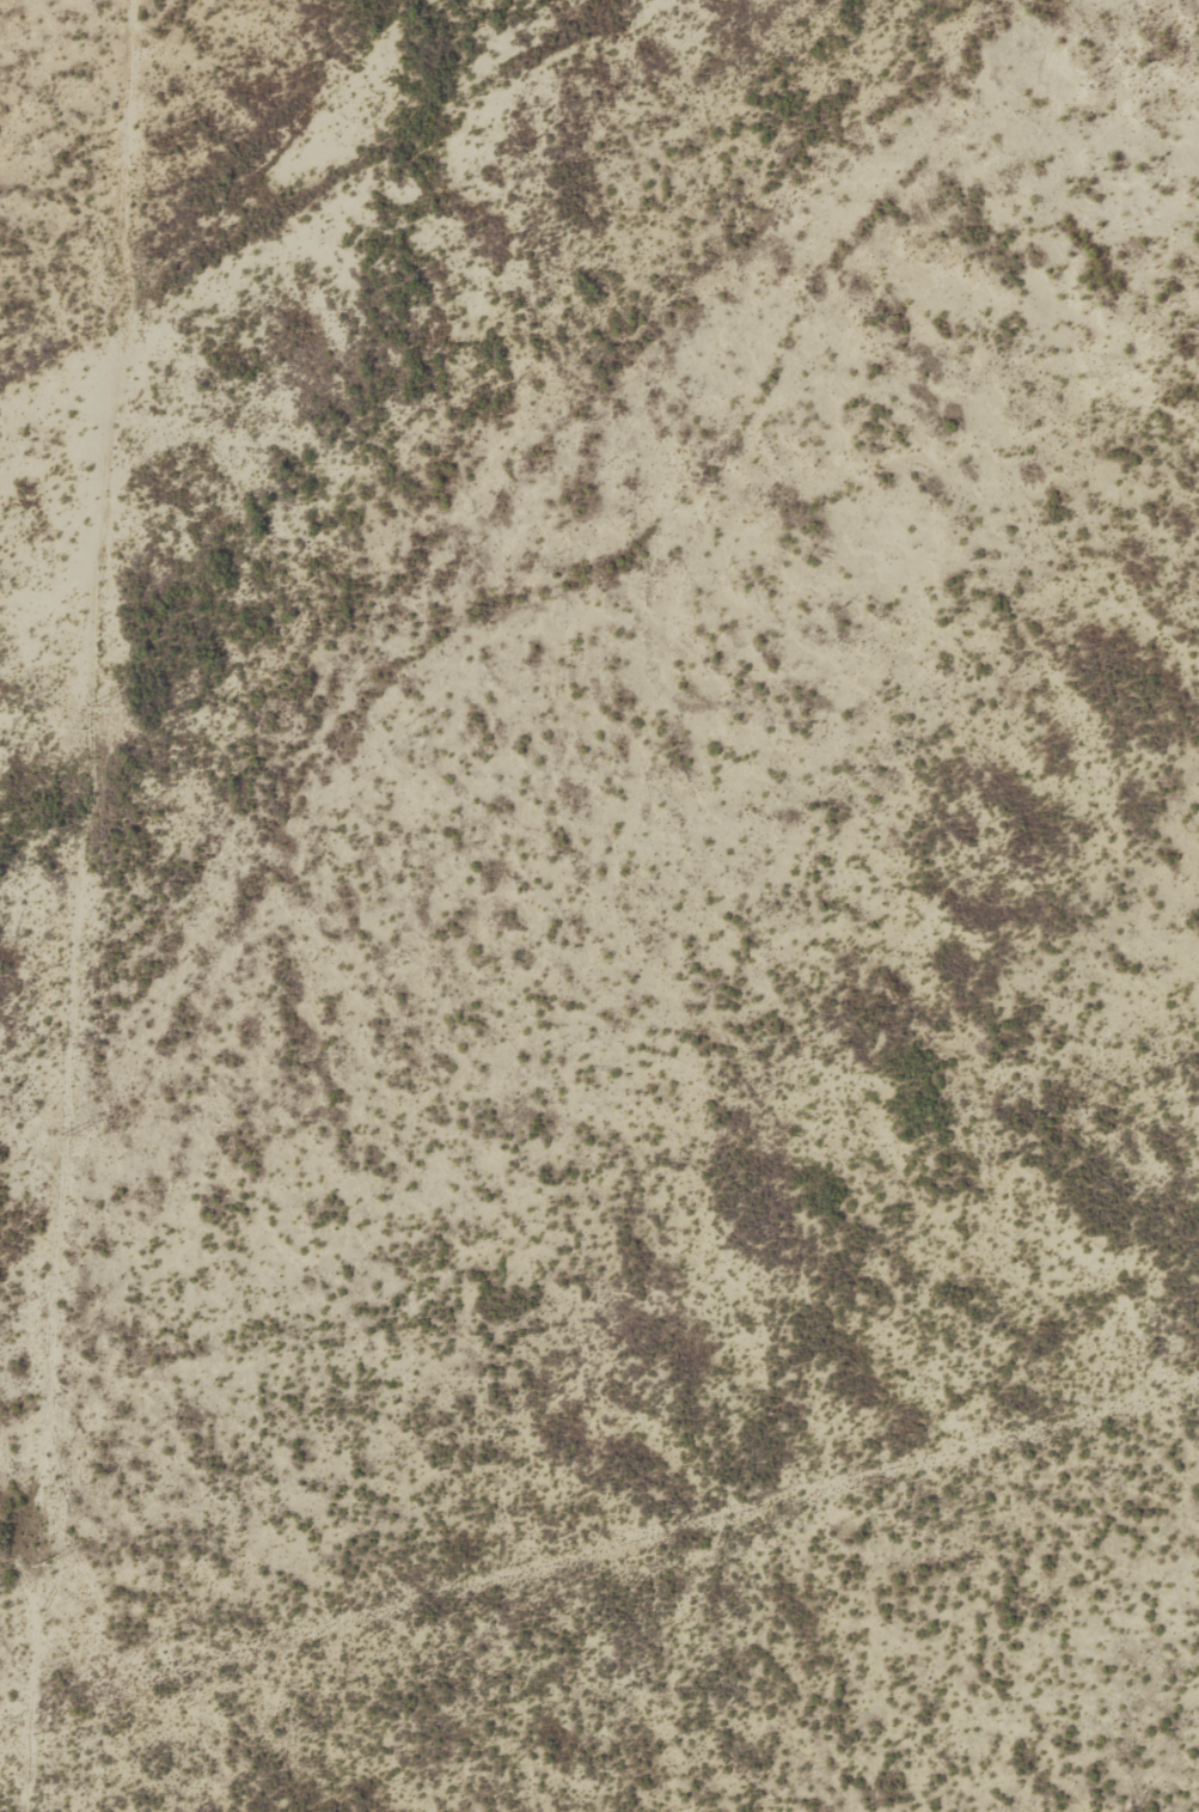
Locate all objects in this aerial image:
power tower: (116, 277)
road: (477, 610)
power tower: (91, 707)
power tower: (66, 1136)
power tower: (38, 1566)

